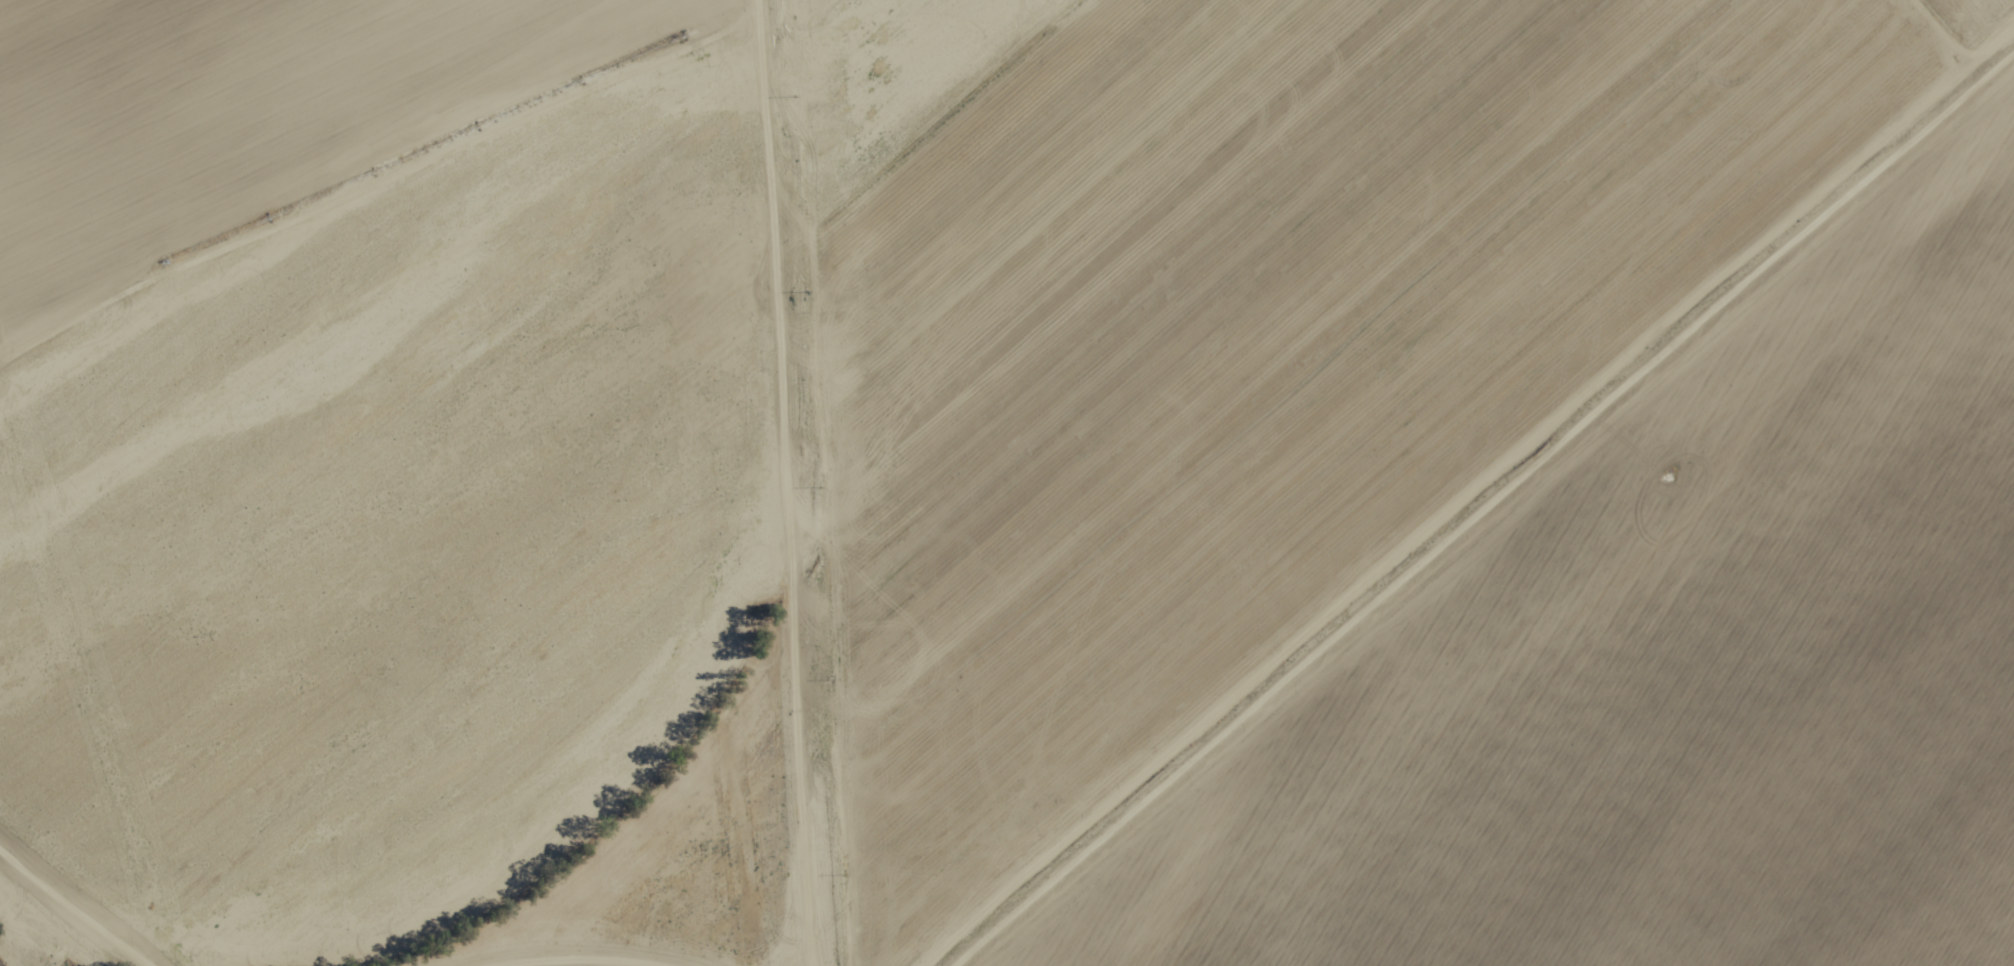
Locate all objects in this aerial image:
road: (791, 483)

